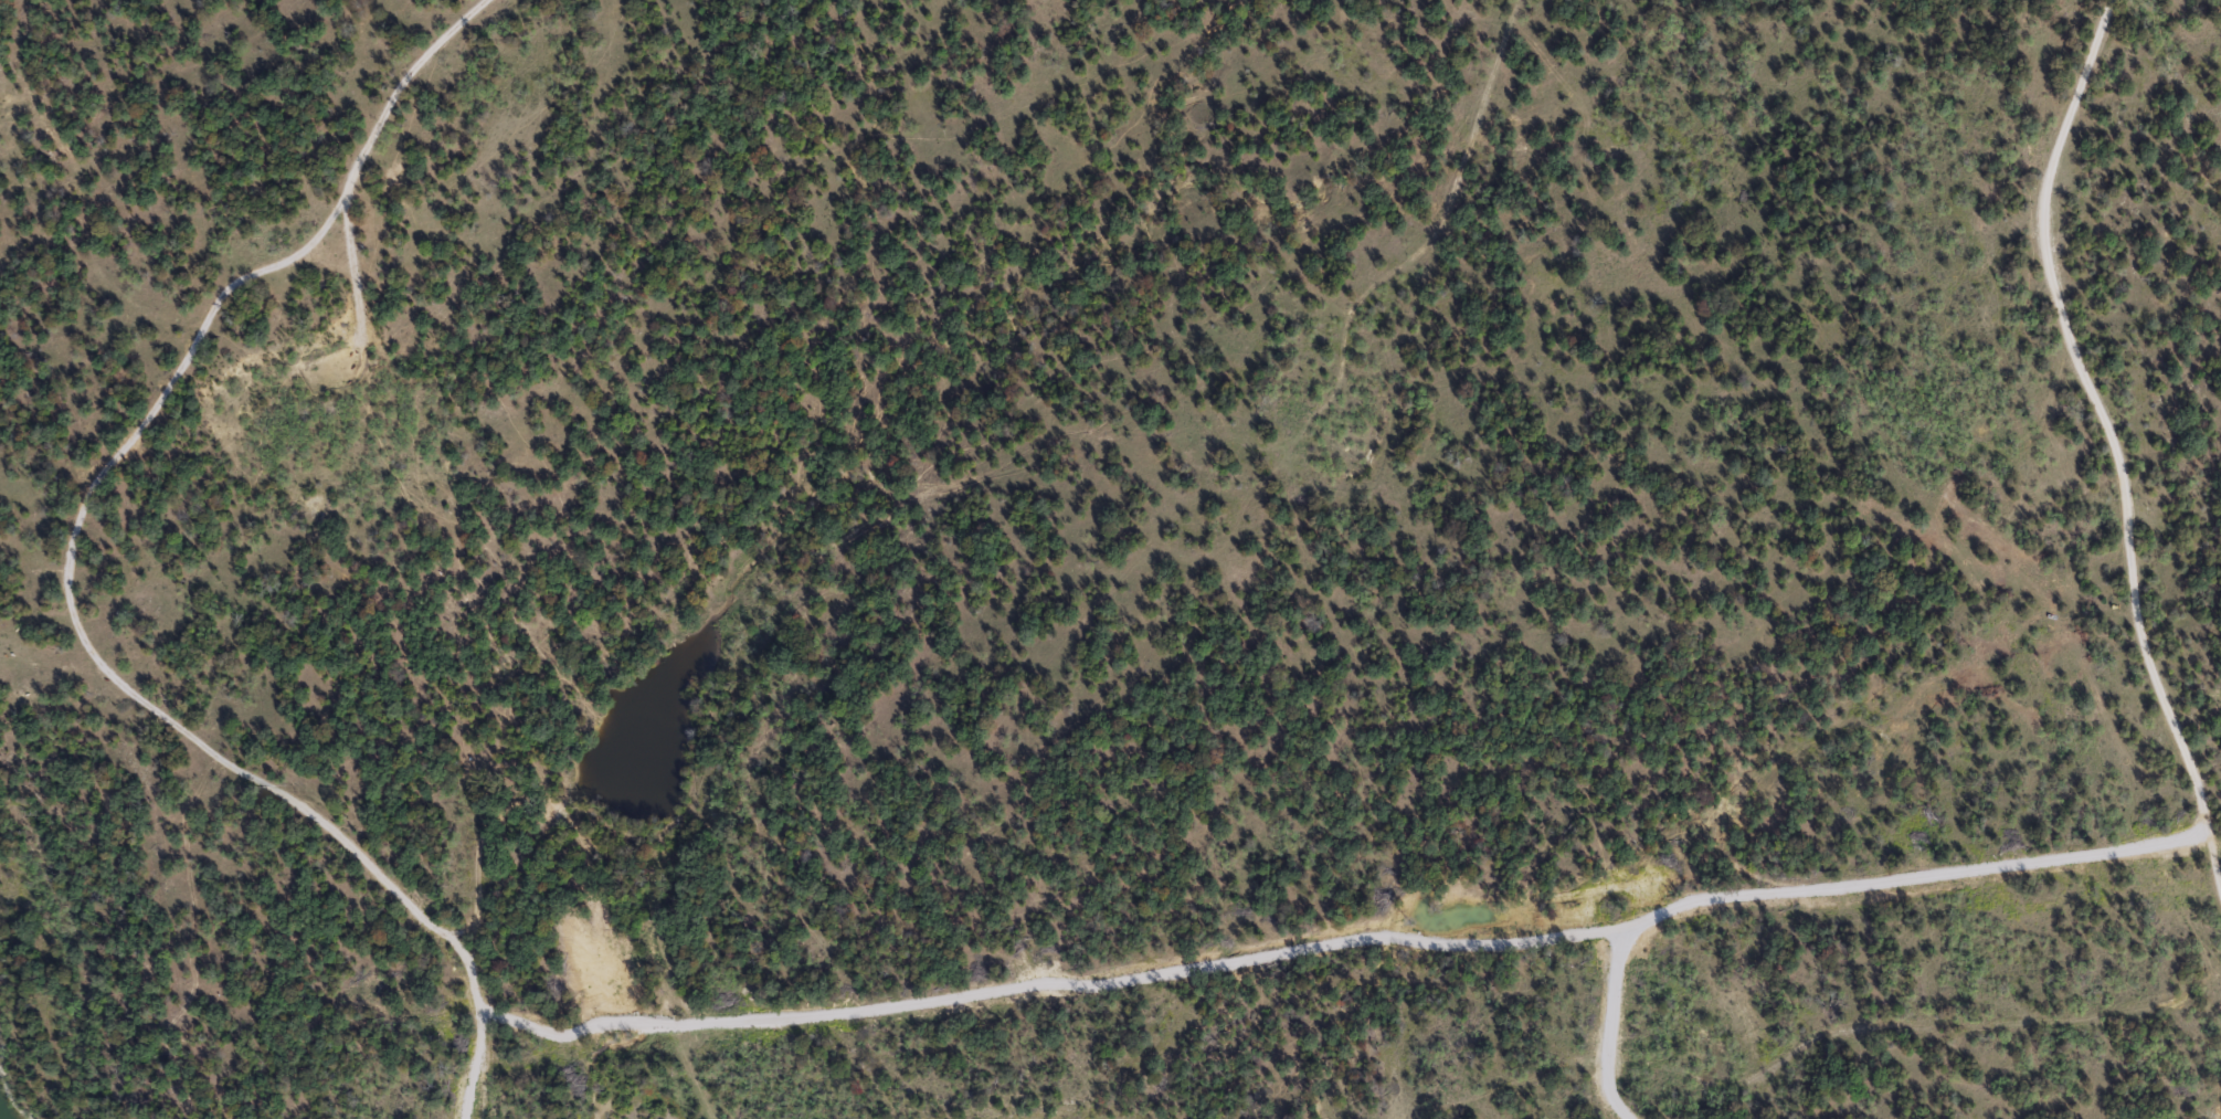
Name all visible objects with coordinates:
road: (1379, 282)
road: (2115, 446)
road: (193, 738)
road: (2023, 1022)
road: (479, 1025)
road: (2218, 1111)

